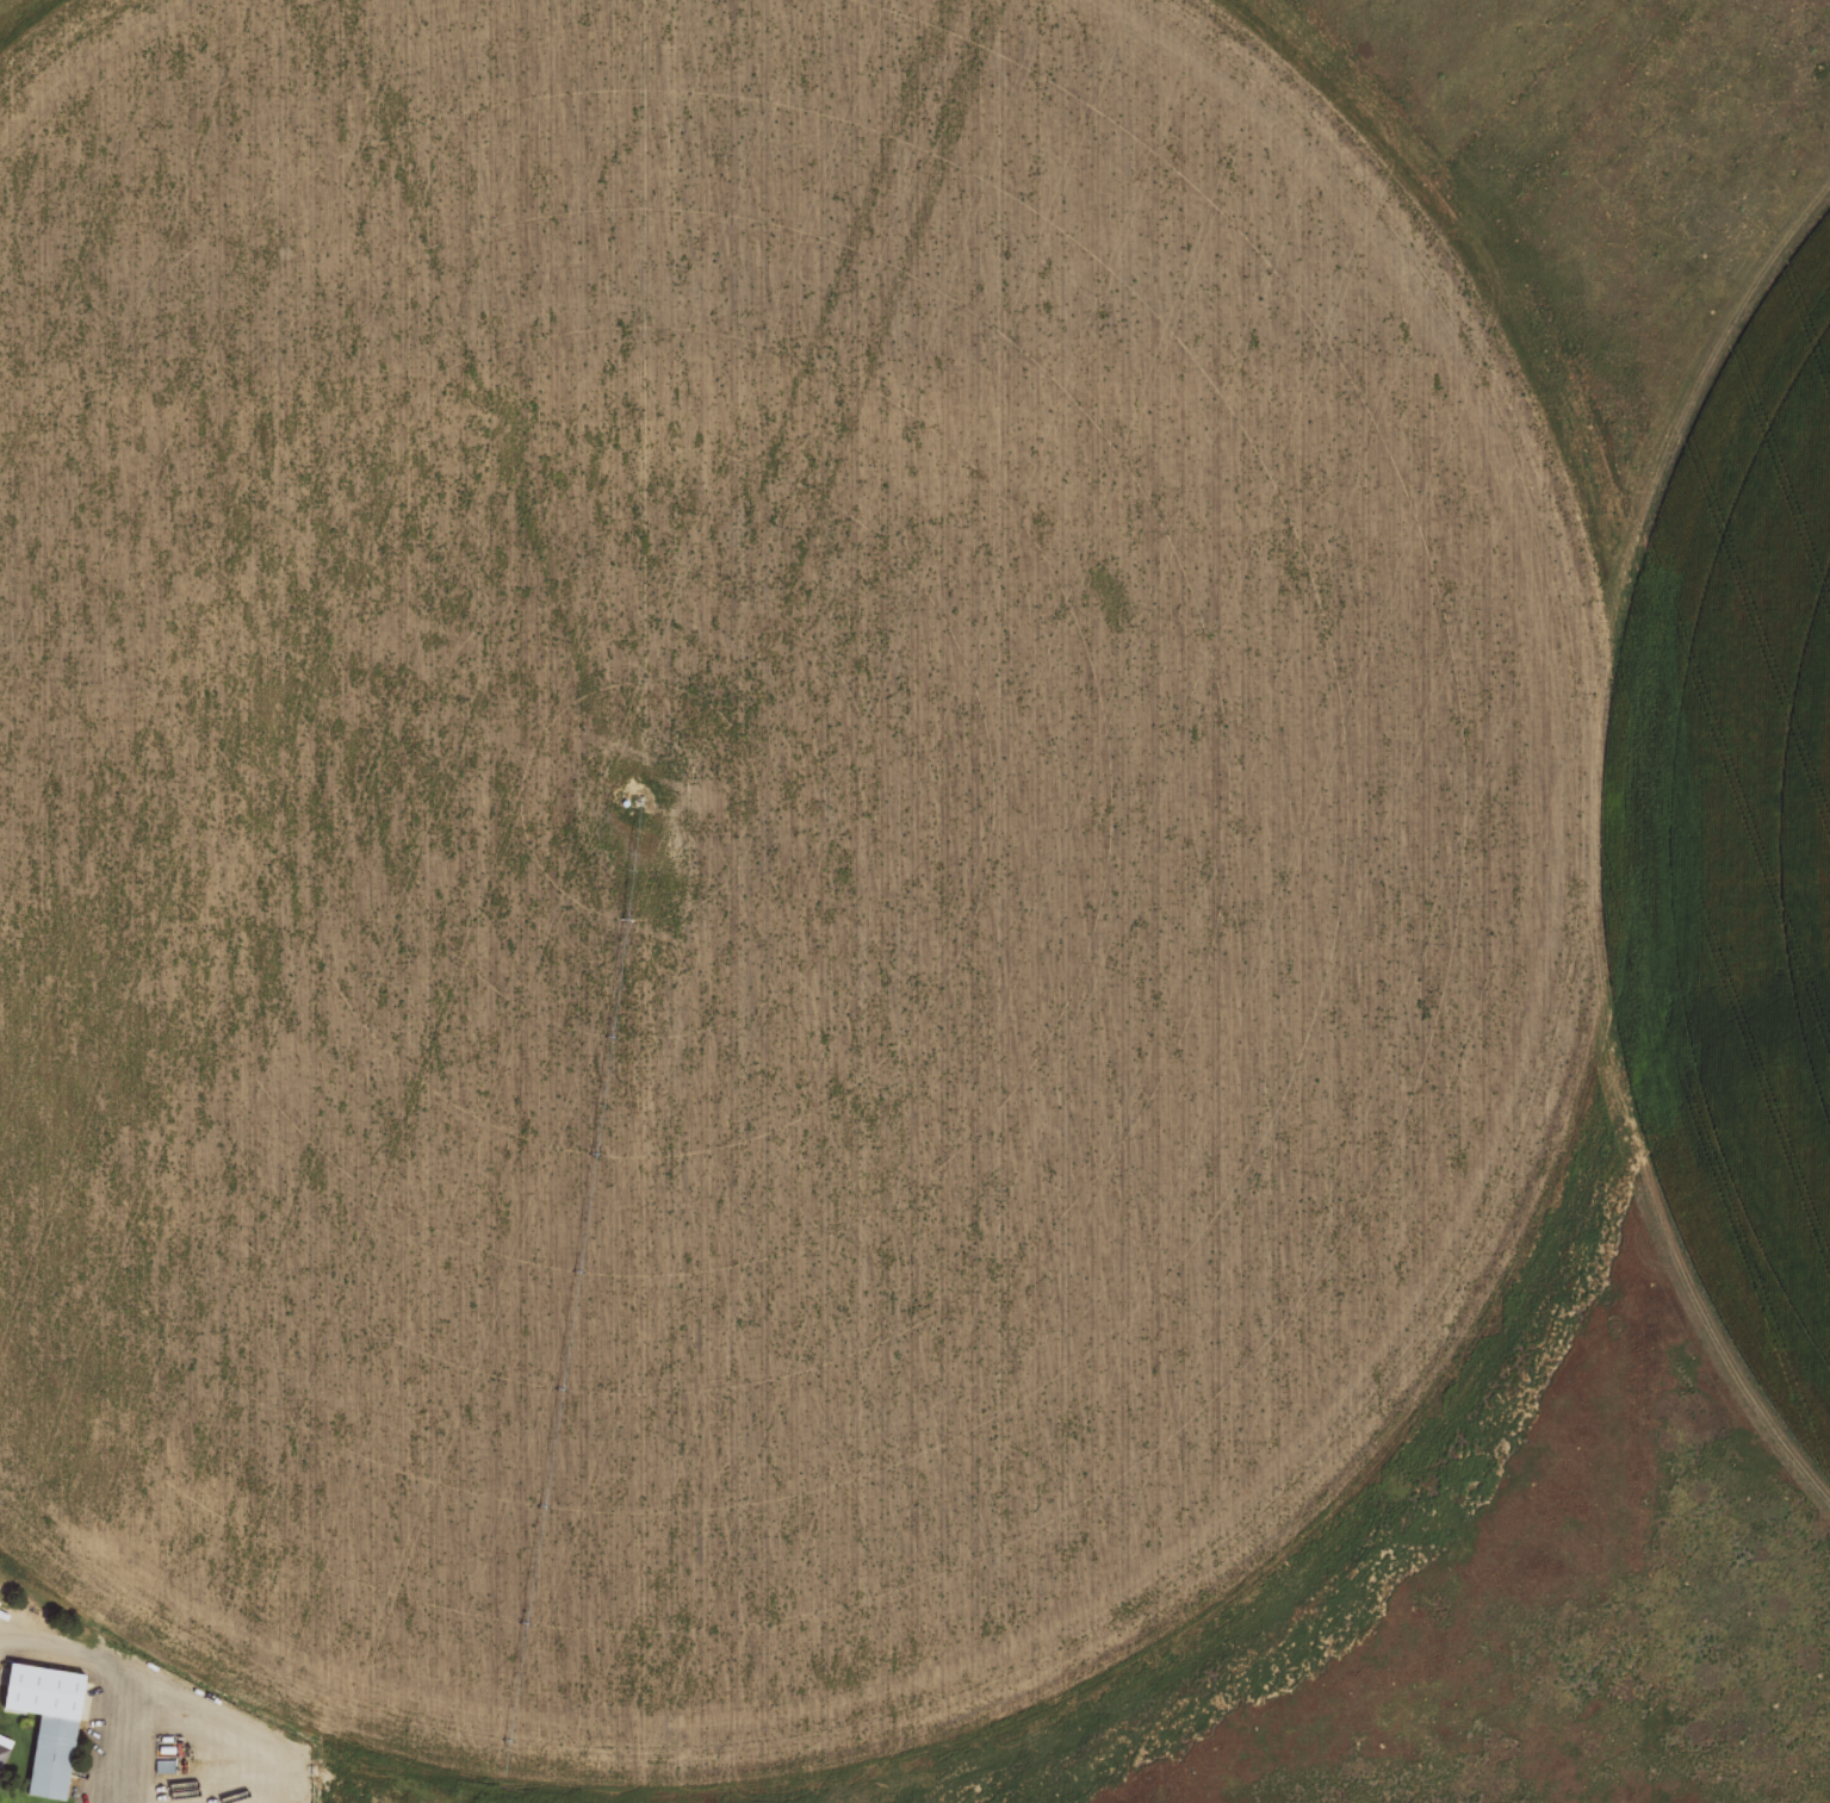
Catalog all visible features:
building: (44, 1721)
building: (4, 1746)

